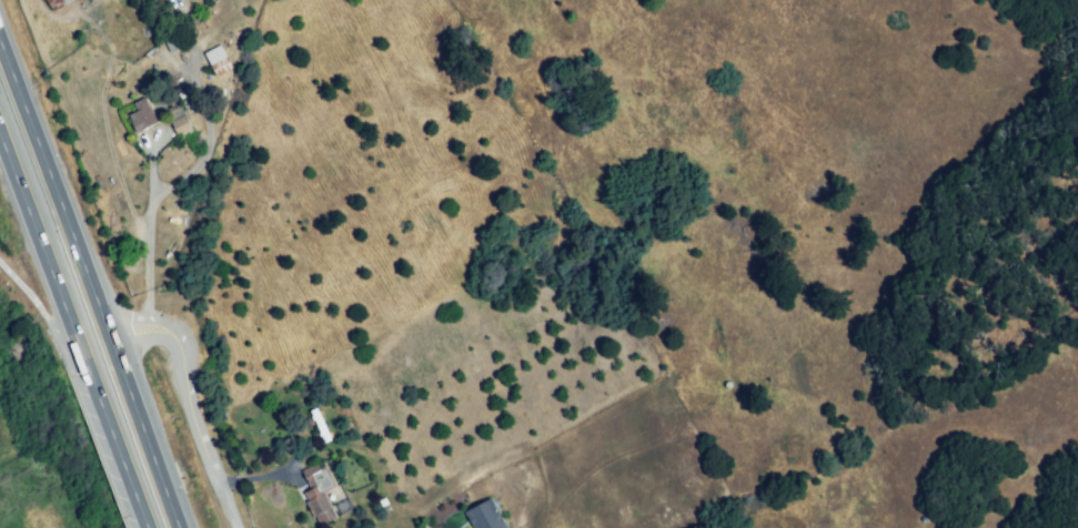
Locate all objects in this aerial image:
building: (56, 4)
building: (218, 60)
building: (142, 115)
building: (180, 125)
road: (157, 165)
road: (155, 202)
road: (91, 281)
road: (41, 312)
road: (72, 326)
road: (198, 405)
building: (312, 471)
building: (320, 505)
building: (485, 516)

